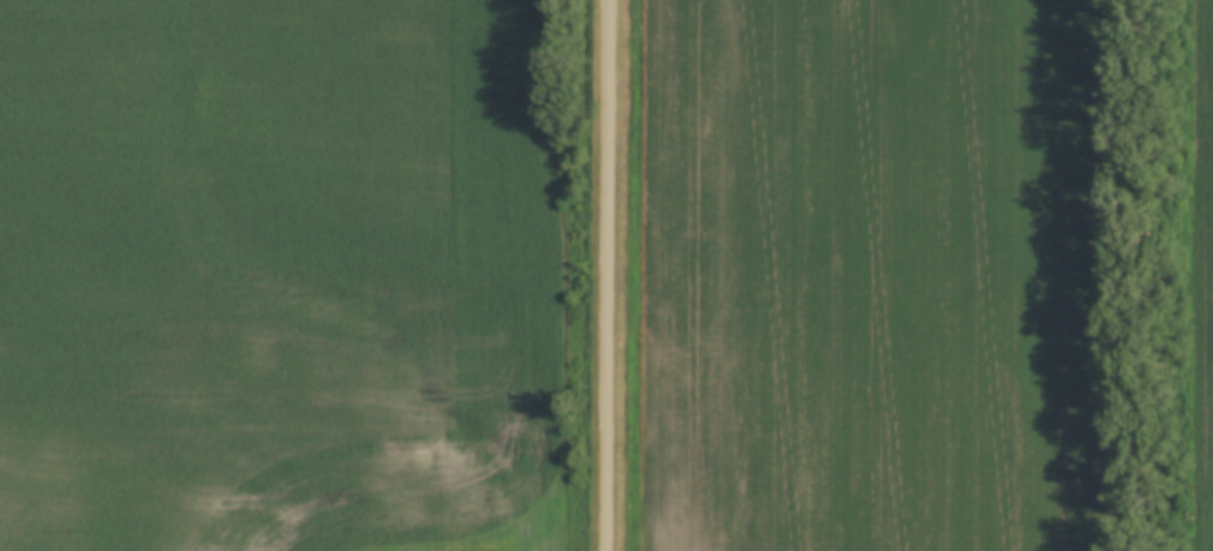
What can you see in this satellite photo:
road: (606, 275)

